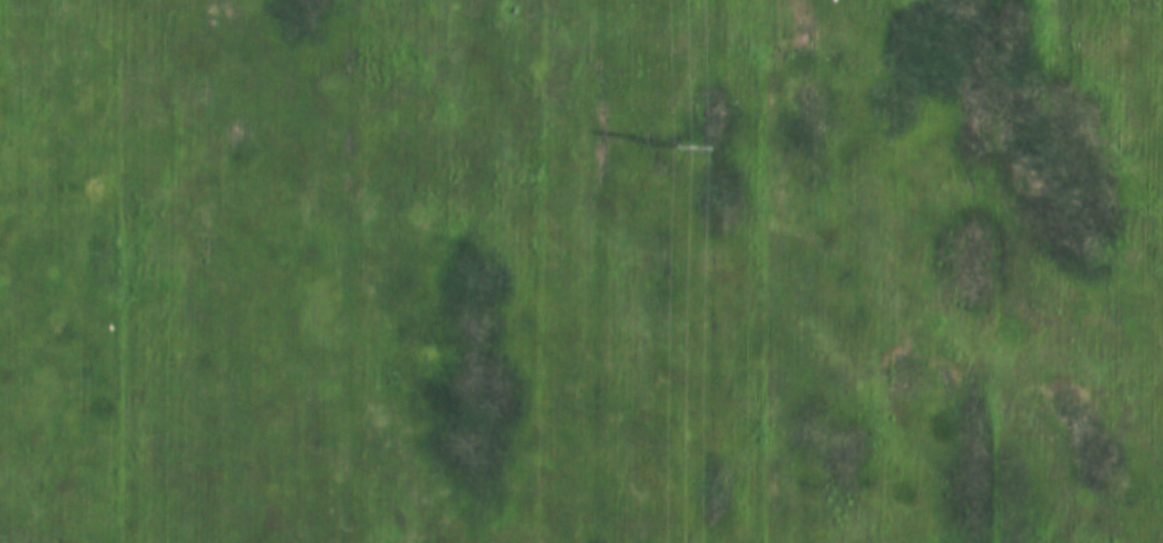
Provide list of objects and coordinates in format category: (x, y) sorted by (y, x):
power tower: (665, 146)

